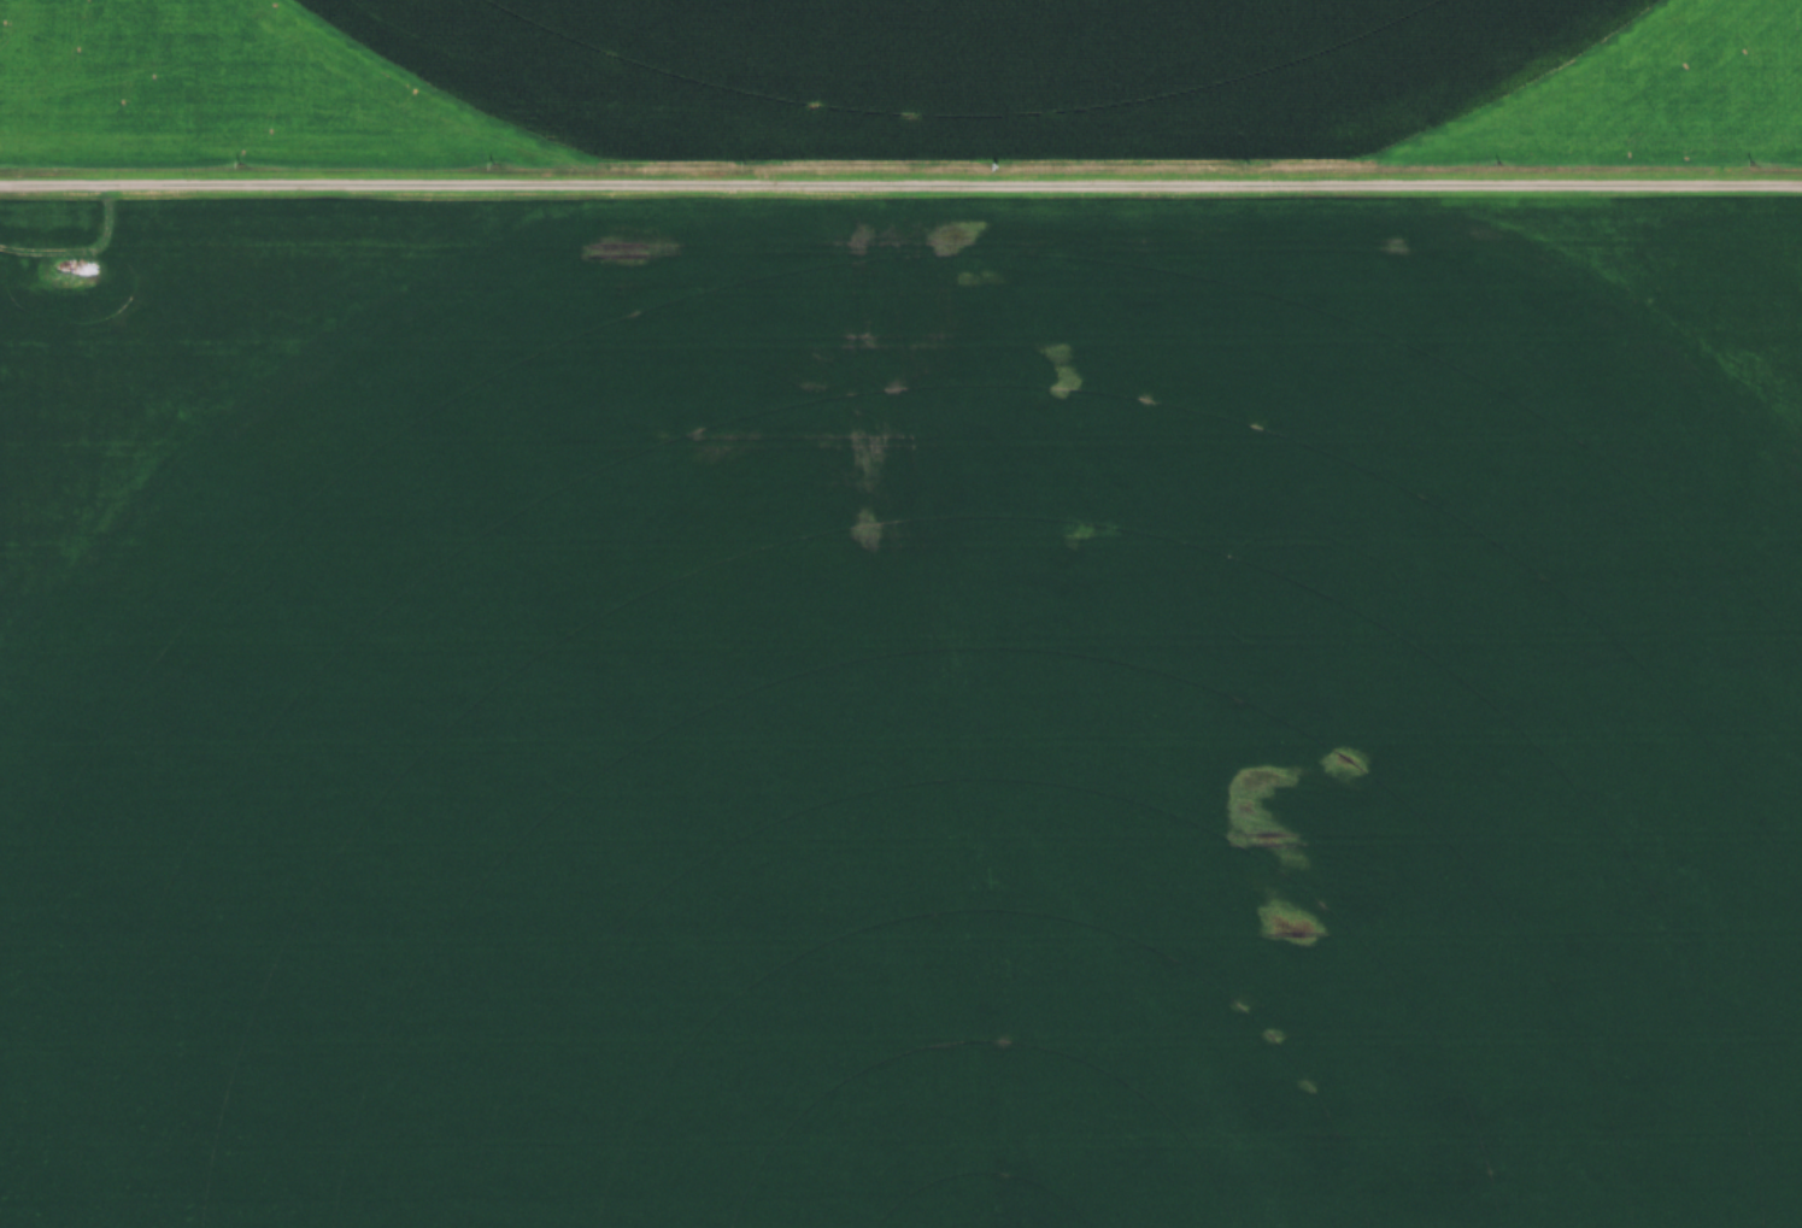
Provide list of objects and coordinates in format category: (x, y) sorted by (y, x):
road: (900, 186)

